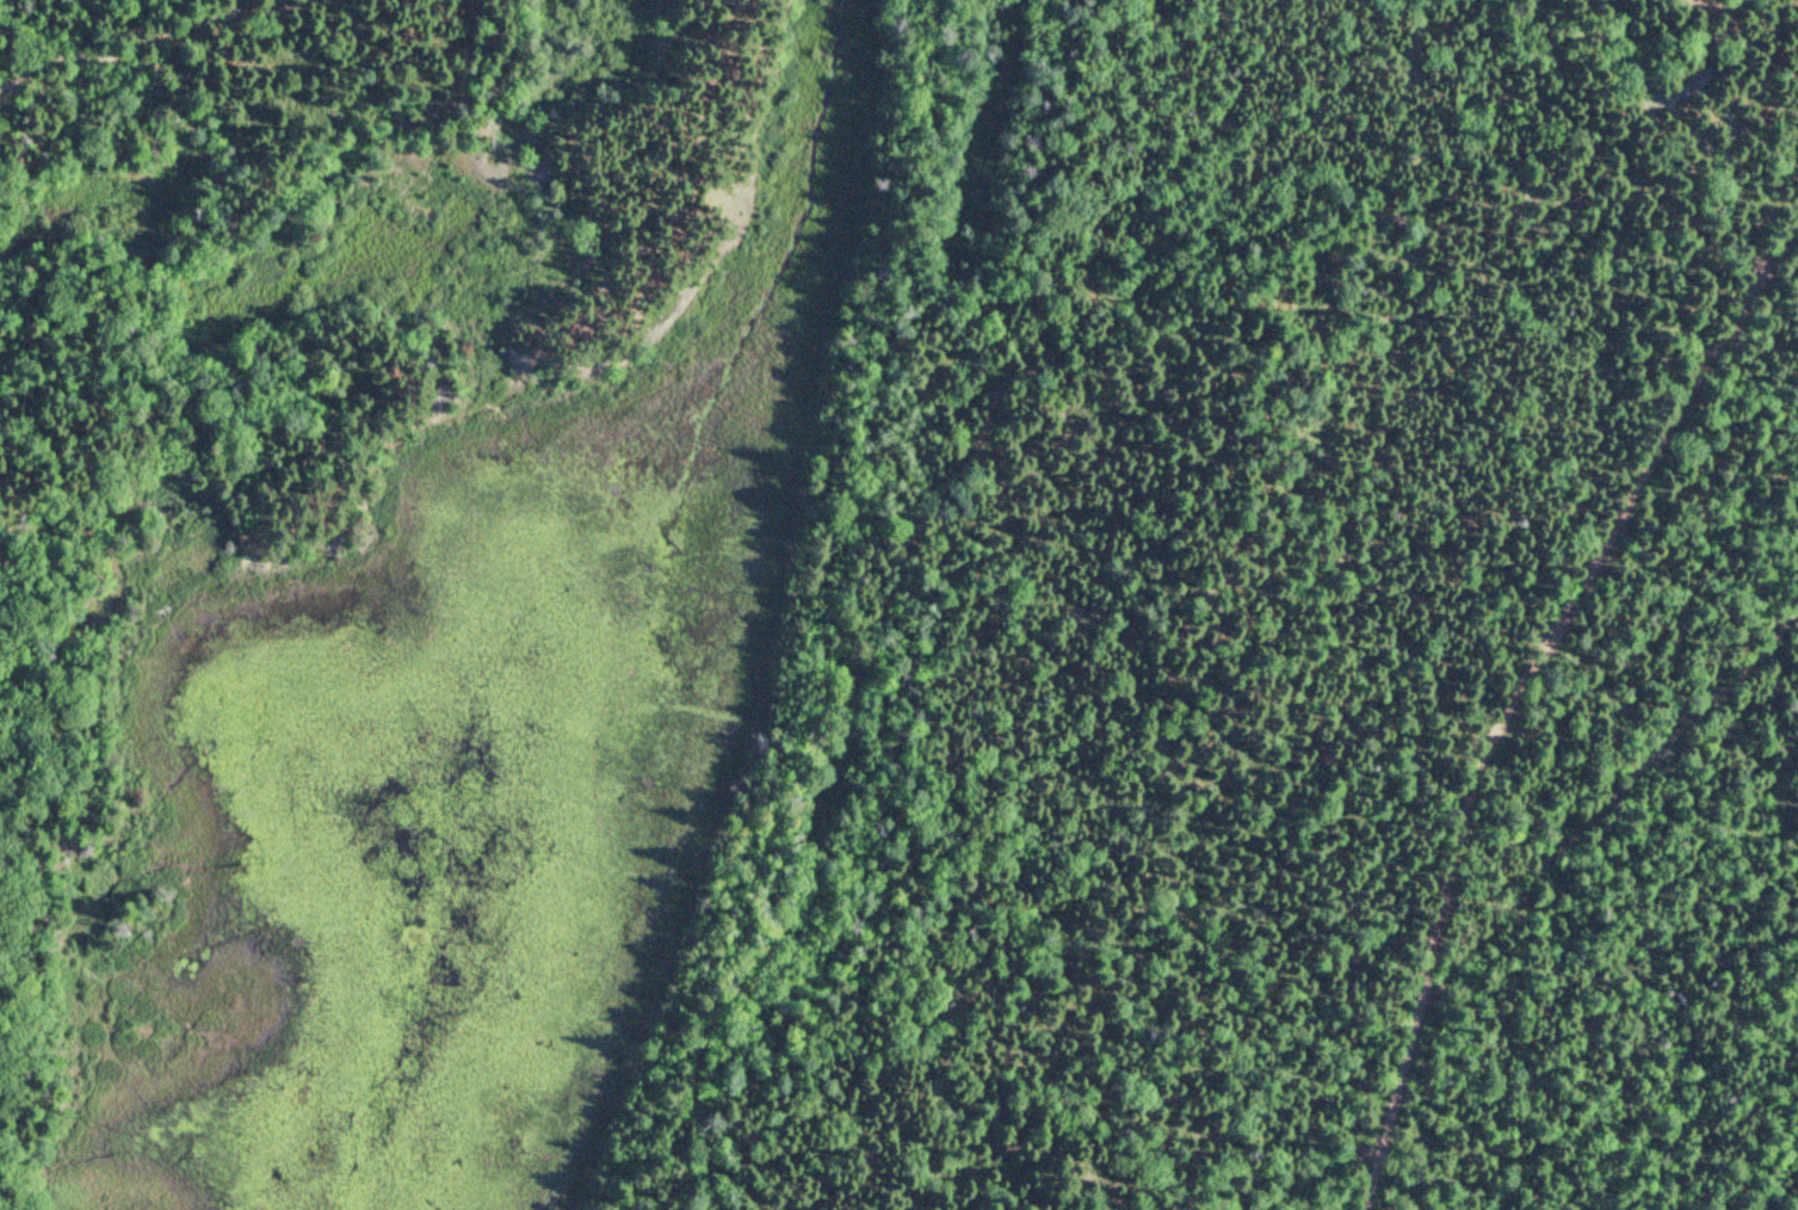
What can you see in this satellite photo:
road: (1578, 586)
road: (1531, 872)

